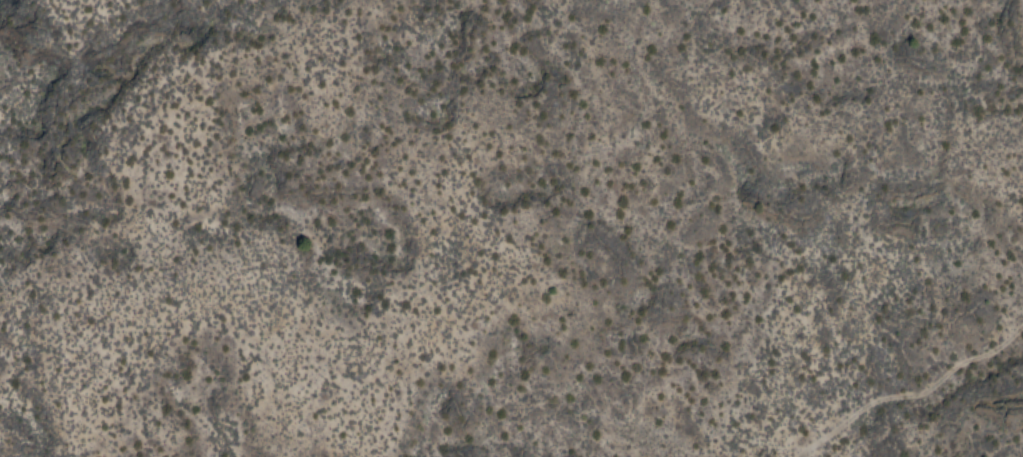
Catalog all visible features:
road: (907, 398)

